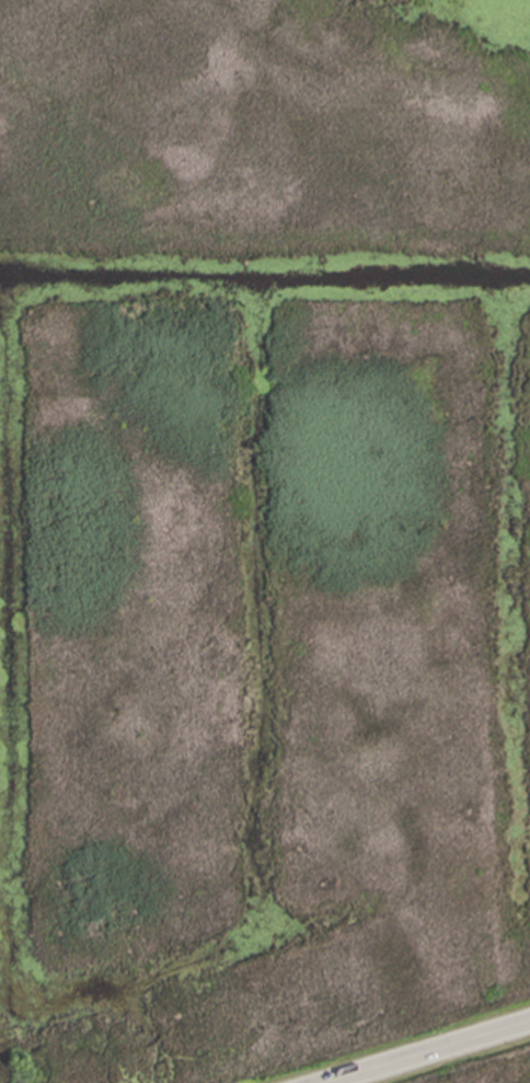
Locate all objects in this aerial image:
road: (428, 1051)

